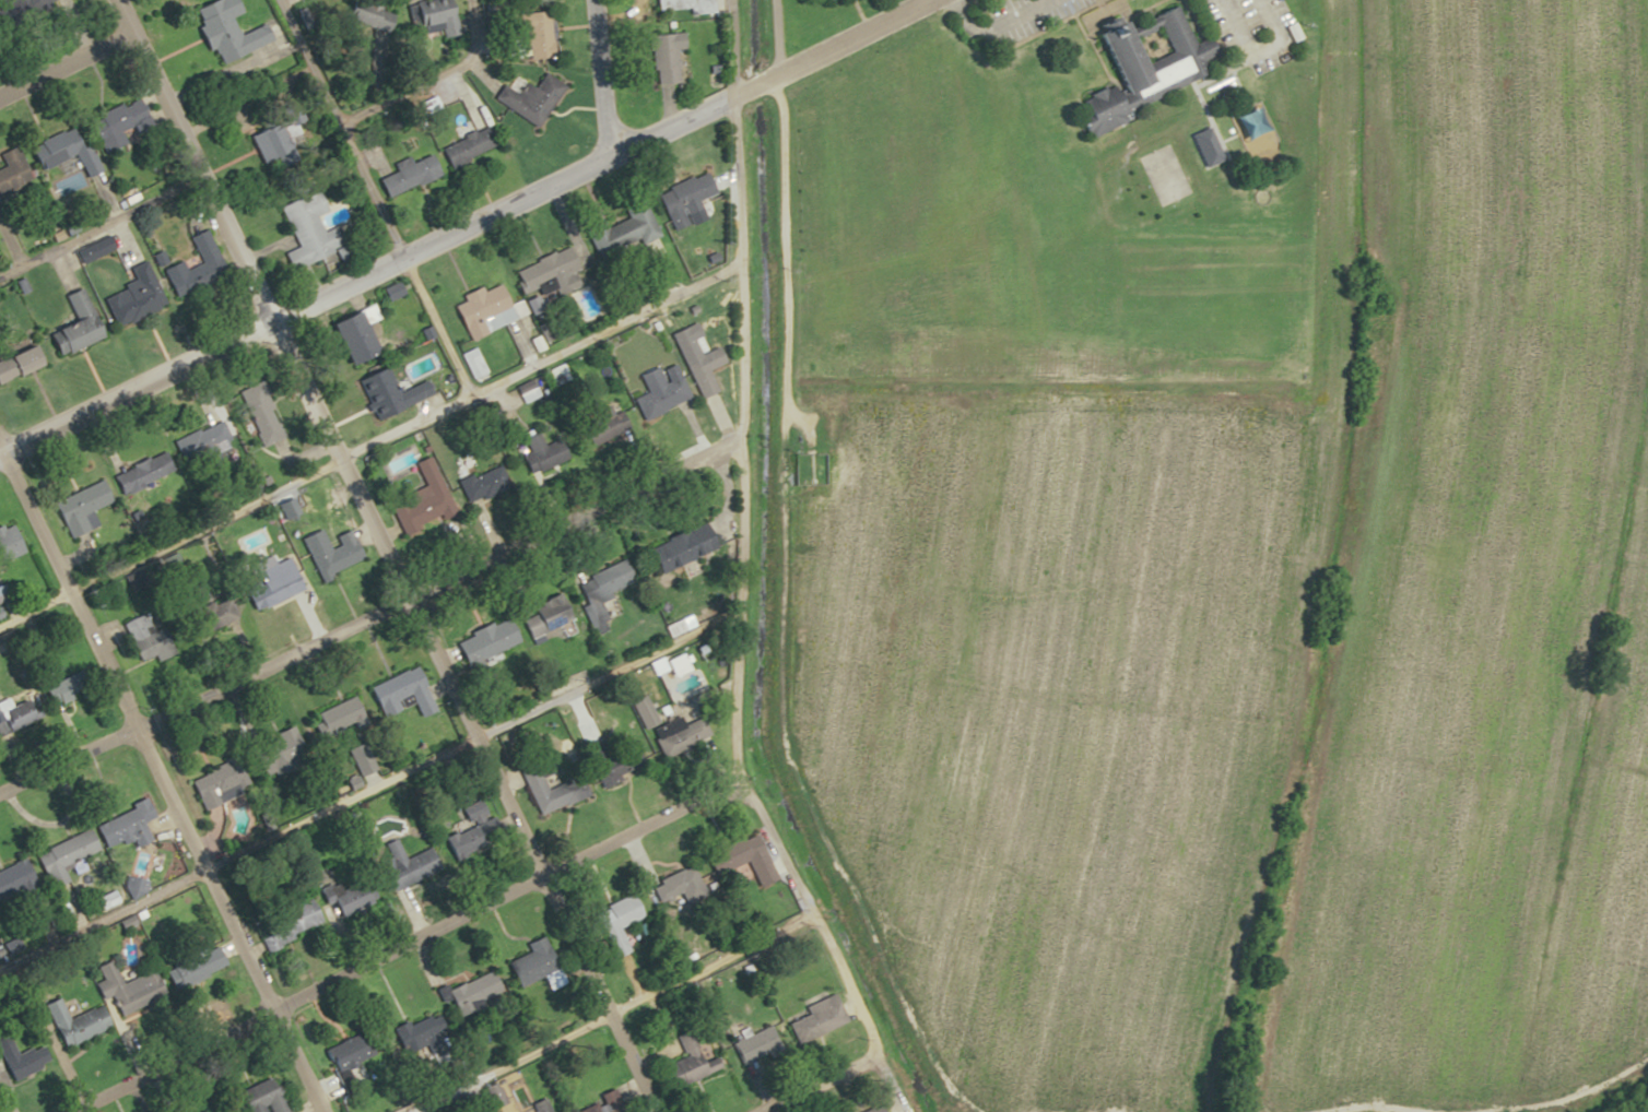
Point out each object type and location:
building: (824, 0)
road: (1172, 2)
building: (25, 4)
parking lot: (1002, 5)
road: (1103, 12)
parking lot: (1250, 15)
building: (361, 17)
building: (428, 19)
parking lot: (1285, 20)
parking lot: (1043, 21)
road: (996, 24)
road: (1055, 25)
parking lot: (1217, 25)
road: (1236, 28)
building: (221, 31)
building: (531, 35)
park: (1151, 45)
road: (730, 48)
building: (660, 57)
road: (62, 58)
parking lot: (1273, 60)
road: (1237, 63)
building: (1141, 66)
road: (597, 78)
building: (525, 97)
building: (116, 125)
road: (339, 128)
building: (271, 134)
building: (462, 146)
building: (61, 158)
building: (9, 174)
building: (403, 175)
park: (1166, 175)
building: (683, 194)
road: (96, 222)
road: (463, 225)
building: (305, 228)
building: (615, 228)
building: (191, 267)
building: (545, 272)
building: (132, 297)
building: (478, 310)
building: (72, 326)
building: (346, 336)
building: (535, 343)
building: (17, 363)
building: (698, 370)
building: (386, 392)
building: (656, 398)
building: (257, 413)
building: (598, 426)
building: (207, 436)
road: (367, 443)
building: (538, 452)
building: (139, 473)
building: (478, 483)
building: (78, 509)
building: (417, 510)
building: (254, 540)
building: (11, 542)
building: (672, 548)
road: (385, 555)
building: (332, 556)
crop: (1478, 568)
building: (600, 581)
road: (776, 584)
building: (270, 585)
road: (737, 591)
building: (540, 616)
building: (205, 617)
road: (368, 617)
building: (141, 636)
building: (482, 642)
building: (396, 693)
crop: (1062, 694)
building: (35, 705)
building: (638, 712)
building: (330, 721)
building: (272, 752)
building: (212, 779)
road: (161, 785)
road: (369, 789)
building: (542, 792)
building: (120, 826)
building: (469, 828)
building: (61, 855)
building: (746, 859)
building: (399, 865)
building: (15, 883)
building: (672, 885)
building: (343, 895)
building: (612, 922)
building: (284, 923)
road: (404, 947)
building: (527, 962)
building: (192, 968)
building: (468, 992)
building: (97, 1012)
road: (609, 1012)
building: (813, 1018)
building: (415, 1032)
building: (752, 1044)
building: (339, 1053)
building: (19, 1058)
building: (686, 1063)
road: (810, 1083)
building: (491, 1093)
road: (1574, 1096)
building: (258, 1097)
building: (605, 1101)
building: (538, 1105)
building: (866, 1111)

